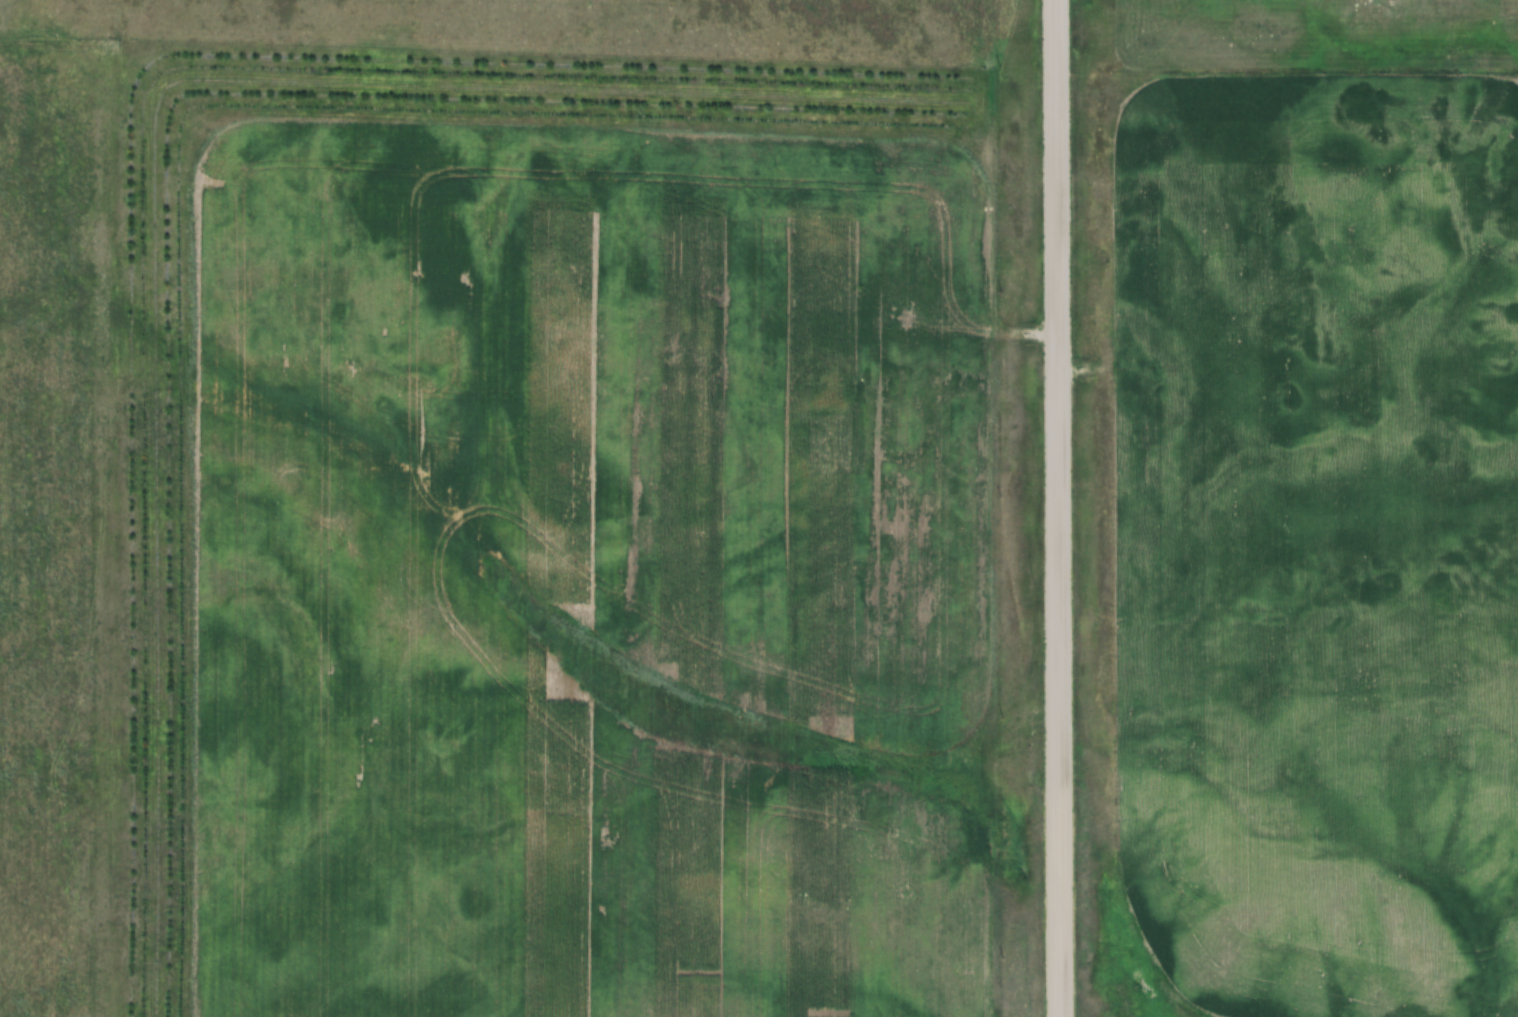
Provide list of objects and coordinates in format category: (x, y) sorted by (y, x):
road: (1057, 508)

